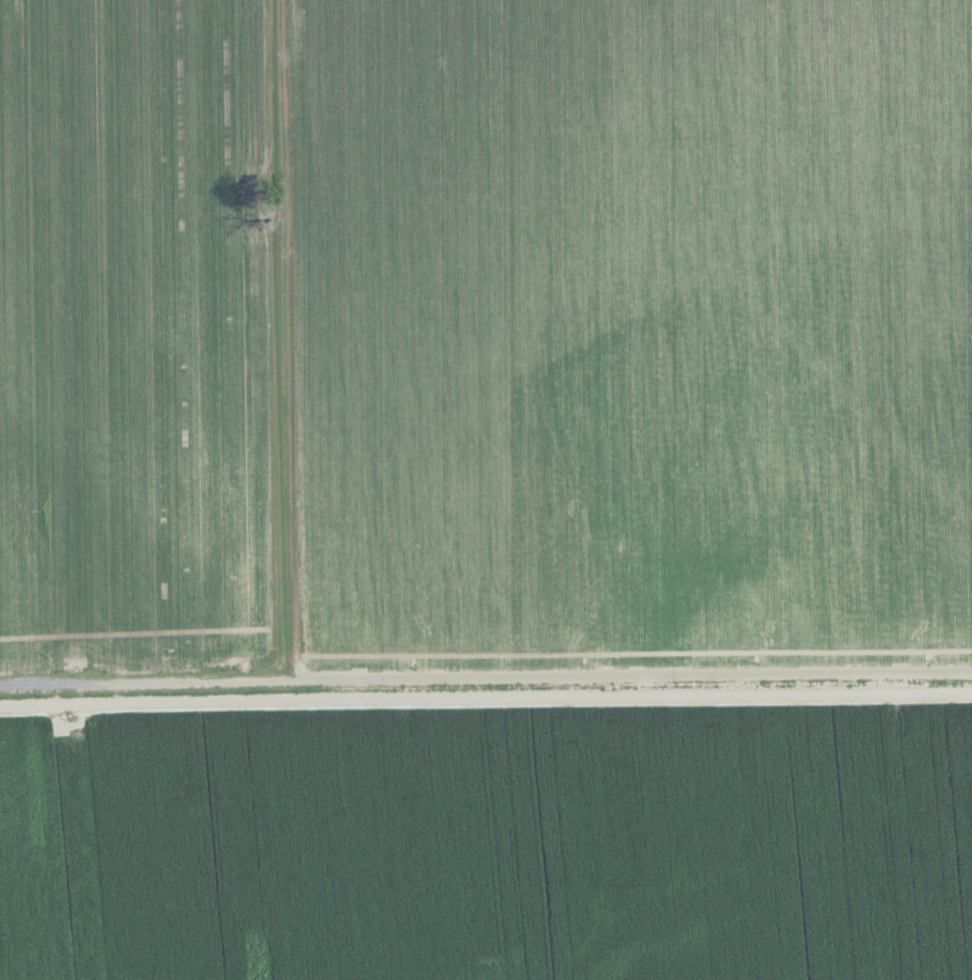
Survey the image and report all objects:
road: (485, 676)
road: (933, 830)

